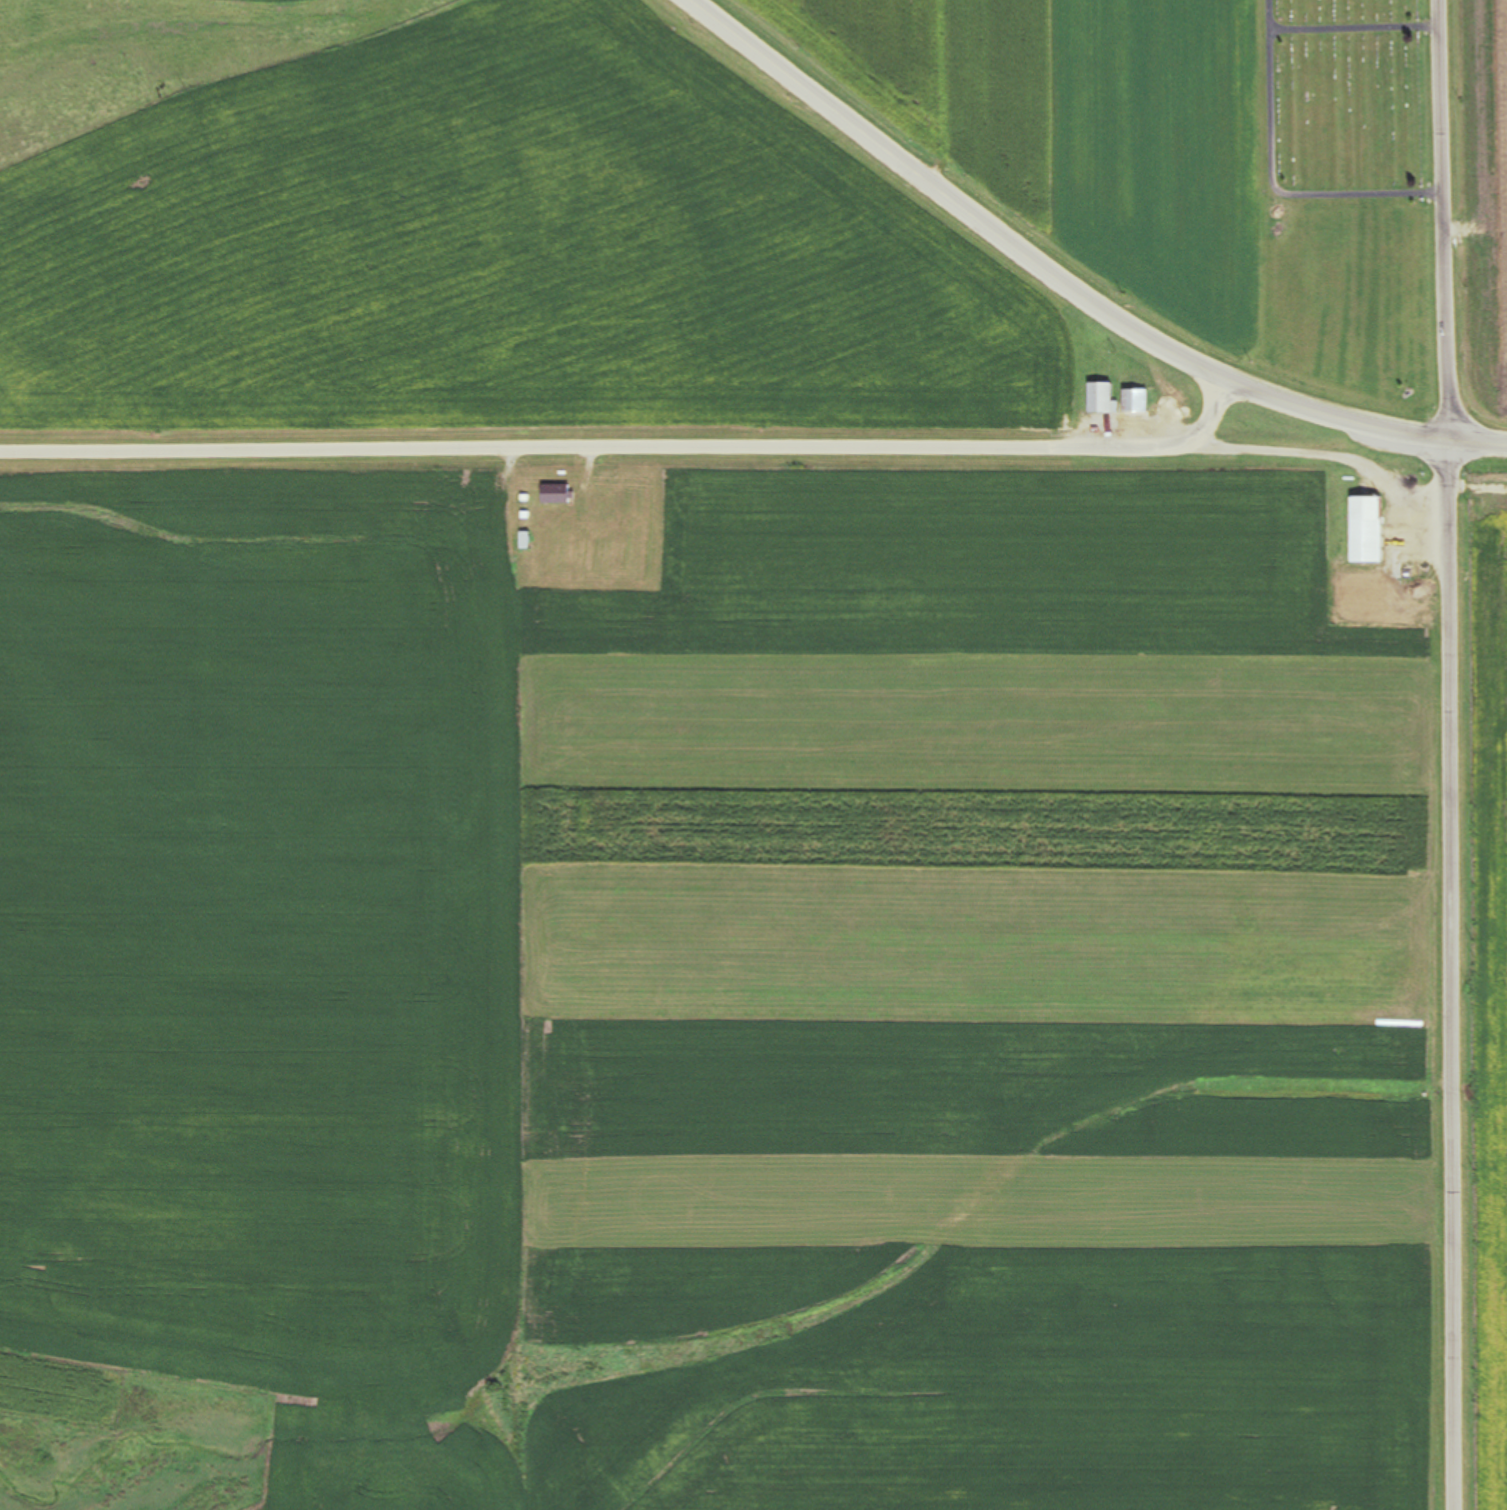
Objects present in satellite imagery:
park: (1346, 118)
road: (1049, 271)
building: (1107, 398)
building: (1141, 402)
road: (1480, 443)
road: (727, 450)
building: (559, 493)
building: (1375, 531)
building: (527, 540)
road: (1454, 754)

